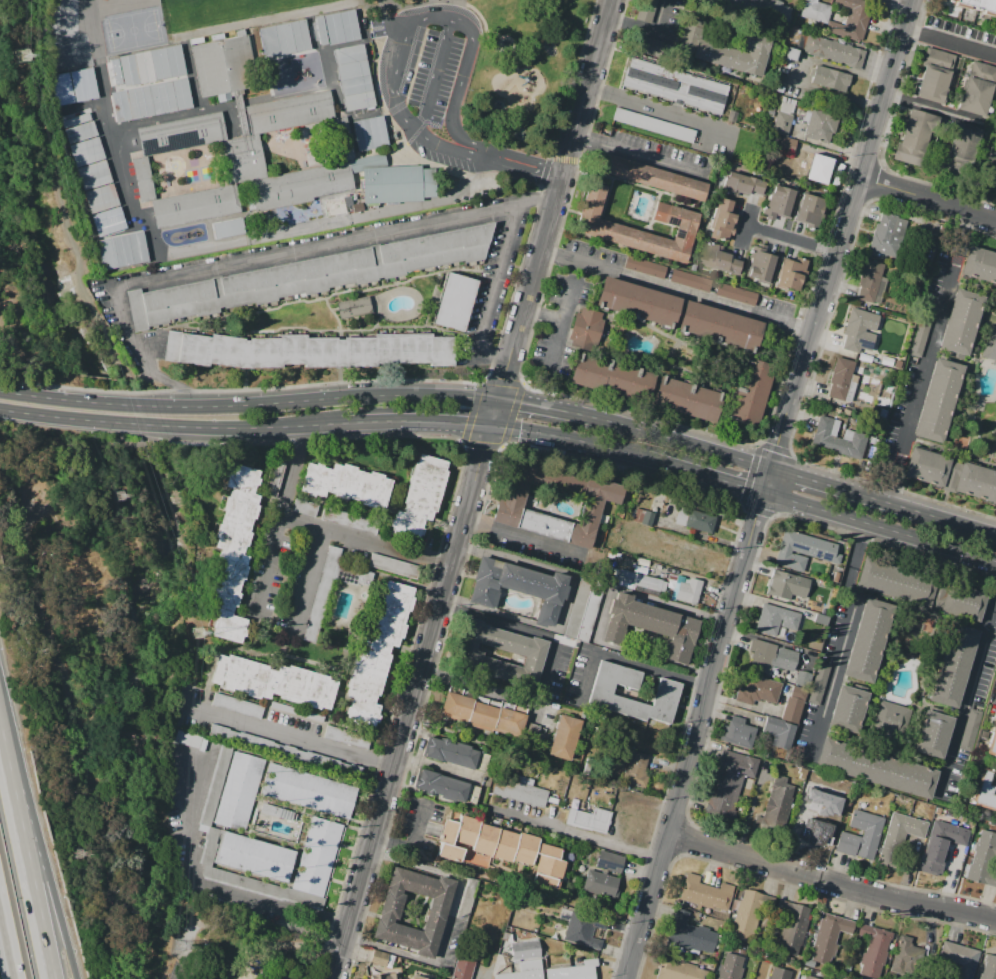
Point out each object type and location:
road: (416, 4)
building: (975, 6)
building: (645, 10)
building: (767, 10)
park: (145, 11)
building: (813, 11)
road: (392, 12)
road: (445, 17)
building: (850, 20)
building: (341, 26)
building: (321, 30)
road: (491, 31)
building: (283, 37)
road: (950, 42)
building: (652, 47)
building: (723, 49)
building: (831, 52)
power tower: (20, 53)
building: (787, 54)
road: (406, 61)
building: (137, 64)
building: (224, 66)
building: (115, 70)
building: (174, 70)
road: (433, 75)
building: (934, 76)
building: (354, 77)
building: (780, 78)
building: (136, 79)
building: (828, 79)
parking lot: (432, 81)
building: (71, 86)
building: (673, 87)
building: (777, 88)
building: (978, 91)
park: (517, 96)
building: (182, 97)
building: (156, 102)
building: (141, 106)
road: (932, 108)
park: (104, 110)
road: (664, 111)
building: (289, 112)
park: (71, 115)
building: (780, 124)
building: (651, 125)
building: (819, 126)
building: (181, 133)
building: (369, 133)
building: (915, 138)
building: (81, 139)
building: (785, 146)
building: (961, 146)
road: (639, 154)
building: (811, 166)
road: (531, 173)
building: (92, 174)
building: (990, 174)
building: (647, 177)
building: (392, 180)
road: (562, 181)
building: (740, 184)
building: (252, 187)
building: (100, 197)
road: (927, 200)
building: (778, 201)
building: (804, 209)
building: (107, 221)
building: (720, 222)
building: (590, 223)
road: (746, 226)
building: (220, 228)
building: (888, 236)
road: (791, 239)
road: (838, 246)
building: (121, 249)
road: (265, 253)
building: (716, 259)
building: (979, 265)
building: (643, 266)
building: (757, 267)
building: (786, 274)
building: (307, 276)
building: (689, 279)
building: (870, 280)
road: (678, 290)
building: (995, 290)
road: (491, 291)
building: (735, 293)
building: (451, 302)
building: (633, 302)
building: (352, 306)
road: (559, 316)
building: (960, 323)
building: (713, 325)
building: (584, 327)
building: (861, 330)
building: (919, 334)
road: (551, 343)
building: (989, 344)
building: (310, 352)
road: (929, 357)
building: (607, 377)
traffic signals: (504, 378)
building: (841, 378)
road: (502, 382)
building: (747, 393)
building: (687, 400)
building: (939, 401)
traffic signals: (520, 404)
road: (248, 406)
road: (547, 408)
road: (395, 422)
traffic signals: (464, 423)
road: (150, 424)
road: (561, 438)
building: (836, 439)
road: (685, 444)
traffic signals: (482, 451)
road: (117, 452)
road: (698, 474)
building: (951, 475)
building: (347, 484)
road: (843, 489)
power tower: (117, 498)
building: (422, 498)
building: (506, 504)
building: (303, 506)
building: (643, 516)
road: (280, 520)
building: (699, 522)
road: (955, 522)
road: (880, 527)
road: (366, 538)
road: (525, 542)
building: (801, 551)
building: (234, 553)
building: (394, 566)
road: (308, 580)
building: (640, 581)
building: (893, 582)
building: (519, 586)
building: (785, 587)
building: (688, 593)
building: (319, 601)
road: (567, 603)
building: (959, 603)
building: (578, 605)
building: (590, 608)
road: (601, 613)
building: (821, 619)
building: (774, 620)
building: (649, 625)
road: (521, 630)
power tower: (195, 634)
road: (841, 639)
building: (864, 642)
building: (464, 654)
building: (379, 657)
building: (767, 658)
road: (625, 662)
road: (59, 664)
building: (949, 667)
road: (418, 676)
building: (802, 678)
building: (276, 682)
building: (817, 683)
road: (480, 686)
road: (966, 691)
building: (756, 692)
building: (662, 693)
building: (793, 704)
building: (237, 705)
road: (754, 708)
building: (842, 714)
building: (482, 715)
building: (884, 715)
road: (265, 728)
building: (969, 729)
building: (738, 733)
building: (778, 733)
road: (695, 735)
building: (928, 735)
building: (345, 737)
building: (563, 737)
building: (991, 740)
building: (447, 753)
building: (875, 768)
building: (634, 770)
building: (801, 773)
building: (728, 782)
building: (812, 783)
building: (437, 786)
building: (309, 791)
building: (240, 792)
building: (522, 792)
building: (983, 793)
building: (777, 802)
building: (821, 802)
road: (749, 810)
building: (277, 811)
building: (588, 819)
building: (814, 826)
building: (869, 835)
road: (577, 836)
building: (896, 837)
road: (414, 844)
building: (939, 846)
building: (498, 849)
road: (43, 852)
road: (25, 854)
power tower: (77, 855)
building: (318, 856)
building: (256, 857)
building: (983, 859)
building: (608, 861)
road: (450, 873)
building: (236, 879)
road: (148, 881)
road: (830, 884)
road: (199, 886)
building: (598, 888)
building: (704, 894)
building: (466, 897)
building: (385, 912)
building: (743, 917)
road: (107, 922)
road: (263, 924)
building: (791, 927)
building: (582, 929)
building: (688, 934)
building: (825, 937)
road: (7, 941)
road: (191, 943)
park: (243, 945)
power tower: (178, 947)
building: (525, 950)
building: (872, 951)
building: (904, 956)
building: (377, 959)
building: (958, 959)
road: (336, 966)
building: (728, 967)
building: (987, 968)
building: (461, 969)
building: (678, 970)
building: (555, 972)
building: (779, 973)
building: (386, 976)
building: (424, 976)
building: (808, 977)

